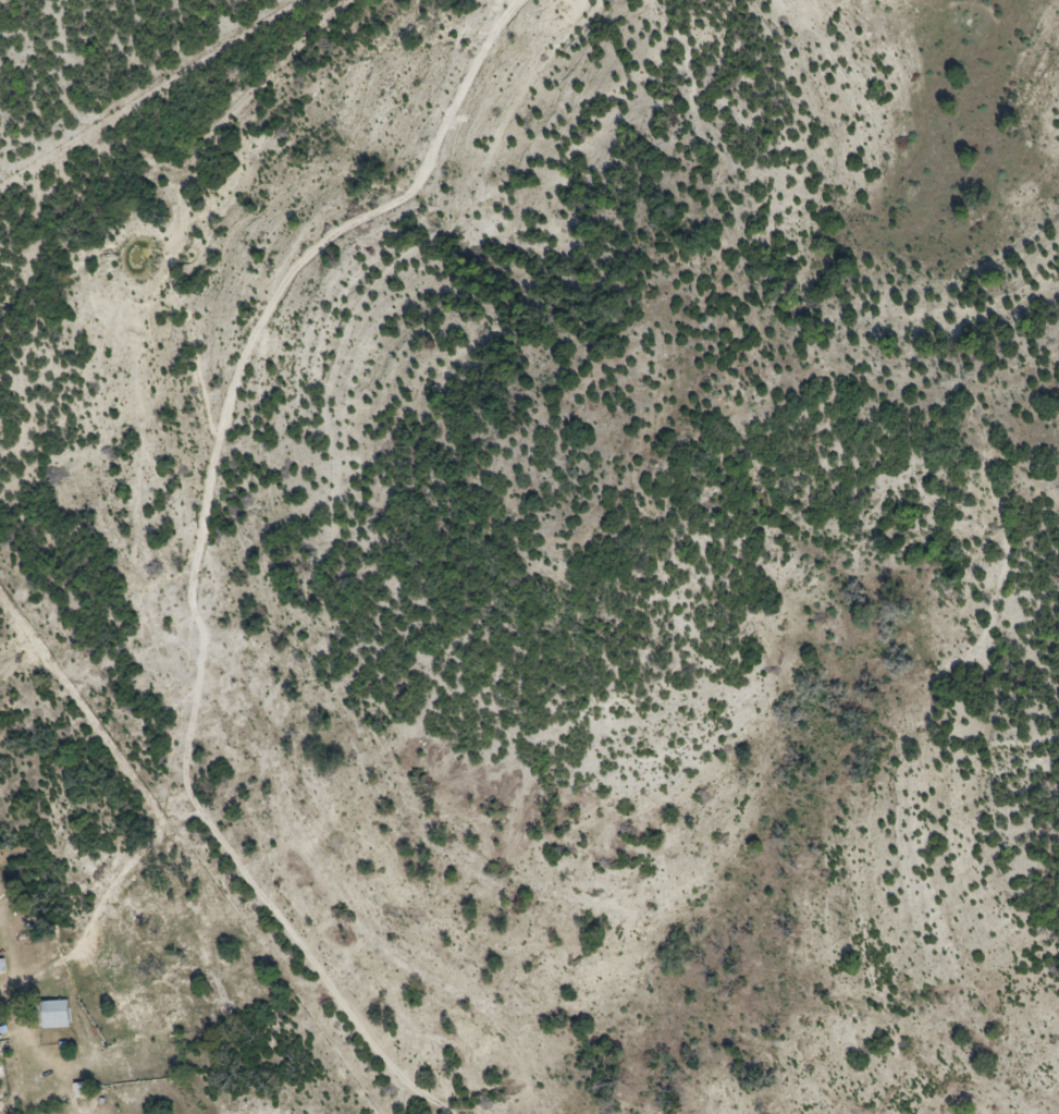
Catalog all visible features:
road: (161, 547)
building: (0, 967)
building: (52, 1015)

